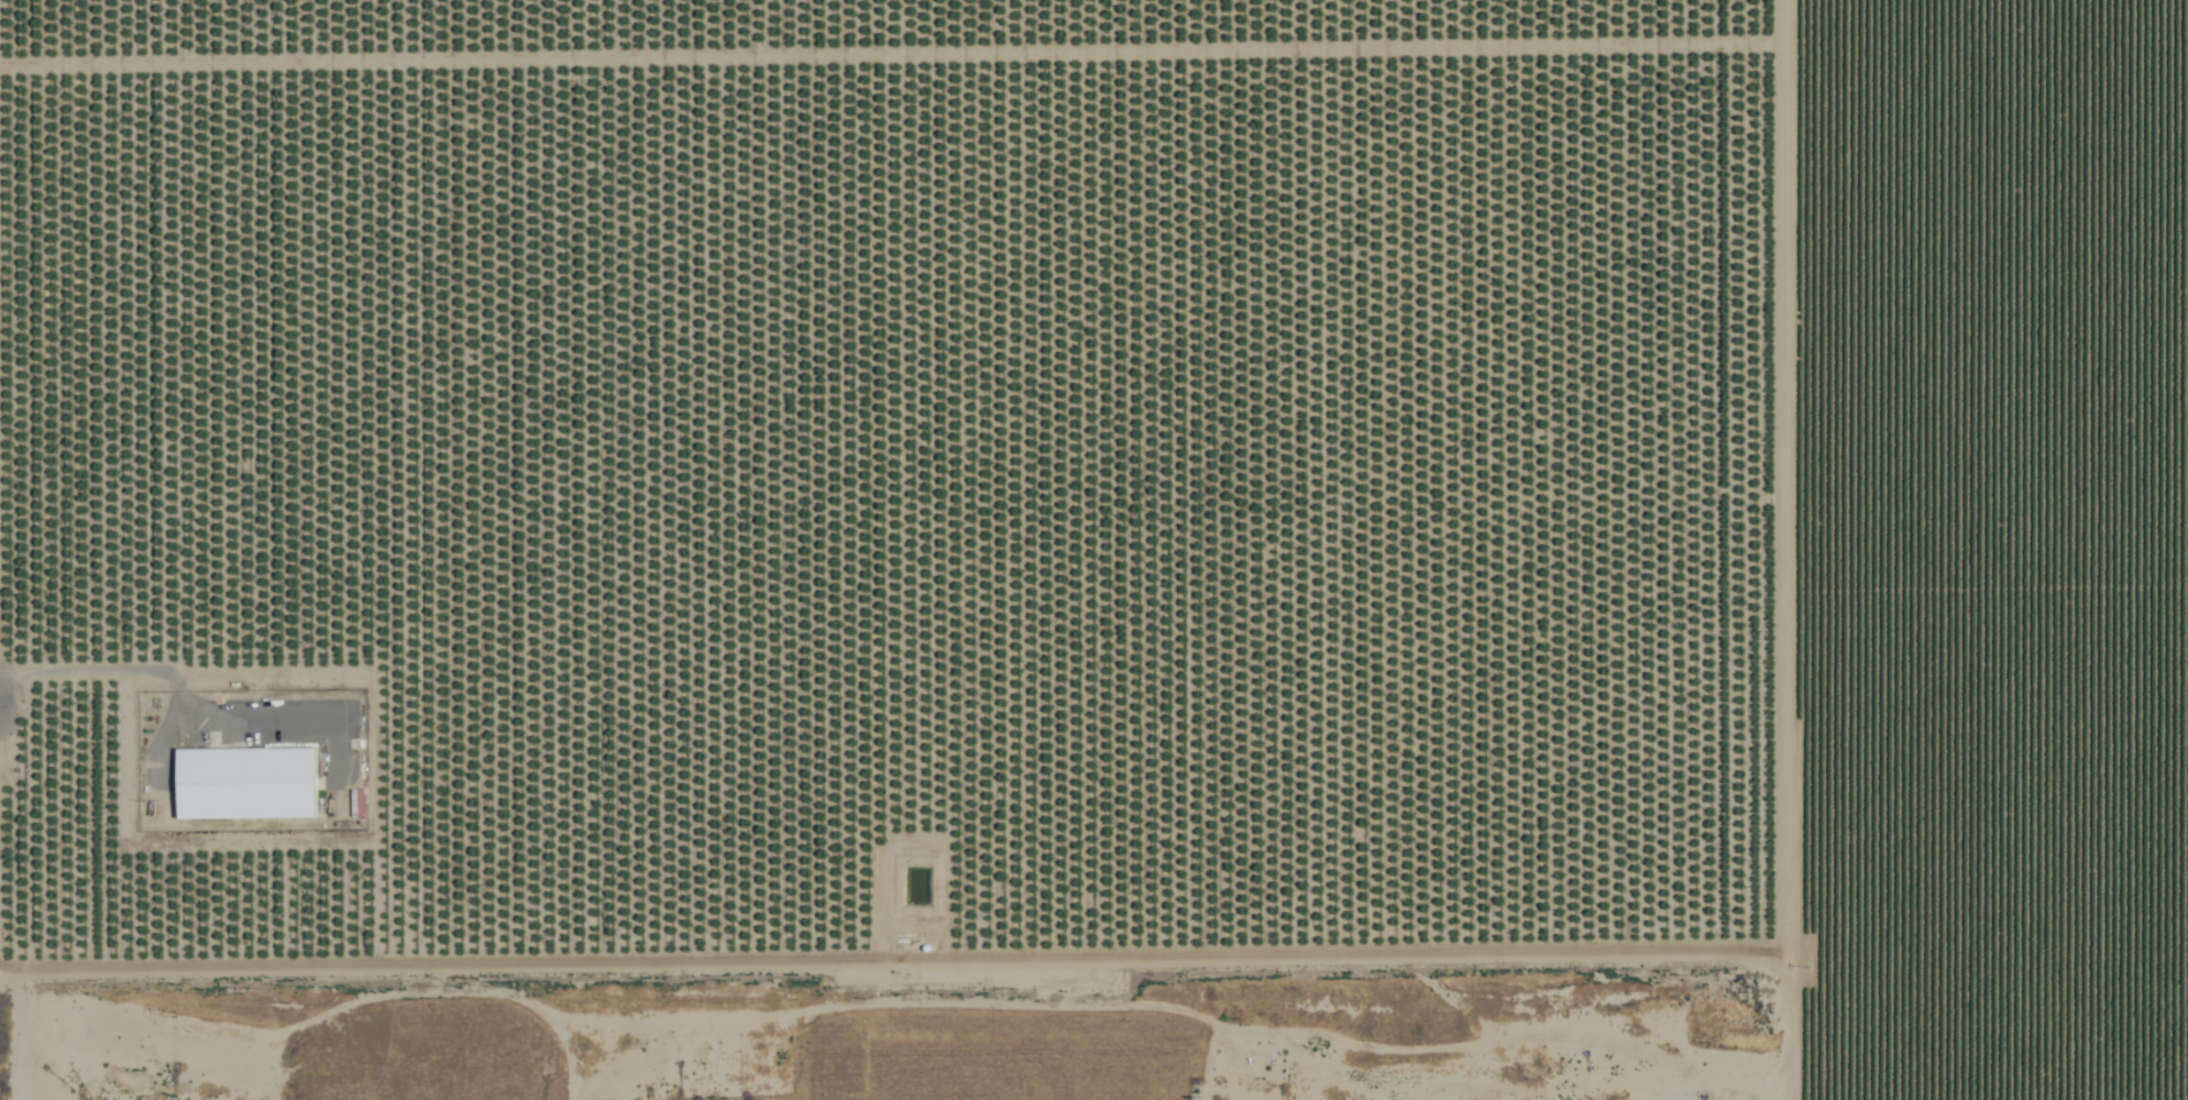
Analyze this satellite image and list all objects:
crop: (1987, 549)
road: (1785, 550)
building: (244, 784)
road: (897, 955)
road: (1214, 1025)
road: (1489, 1031)
road: (1500, 1061)
road: (1315, 1071)

